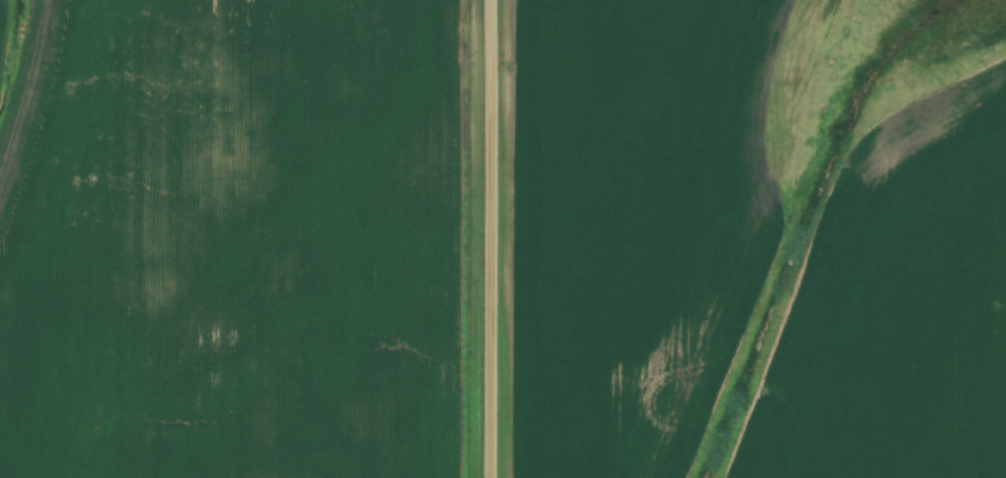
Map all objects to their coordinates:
road: (487, 238)

